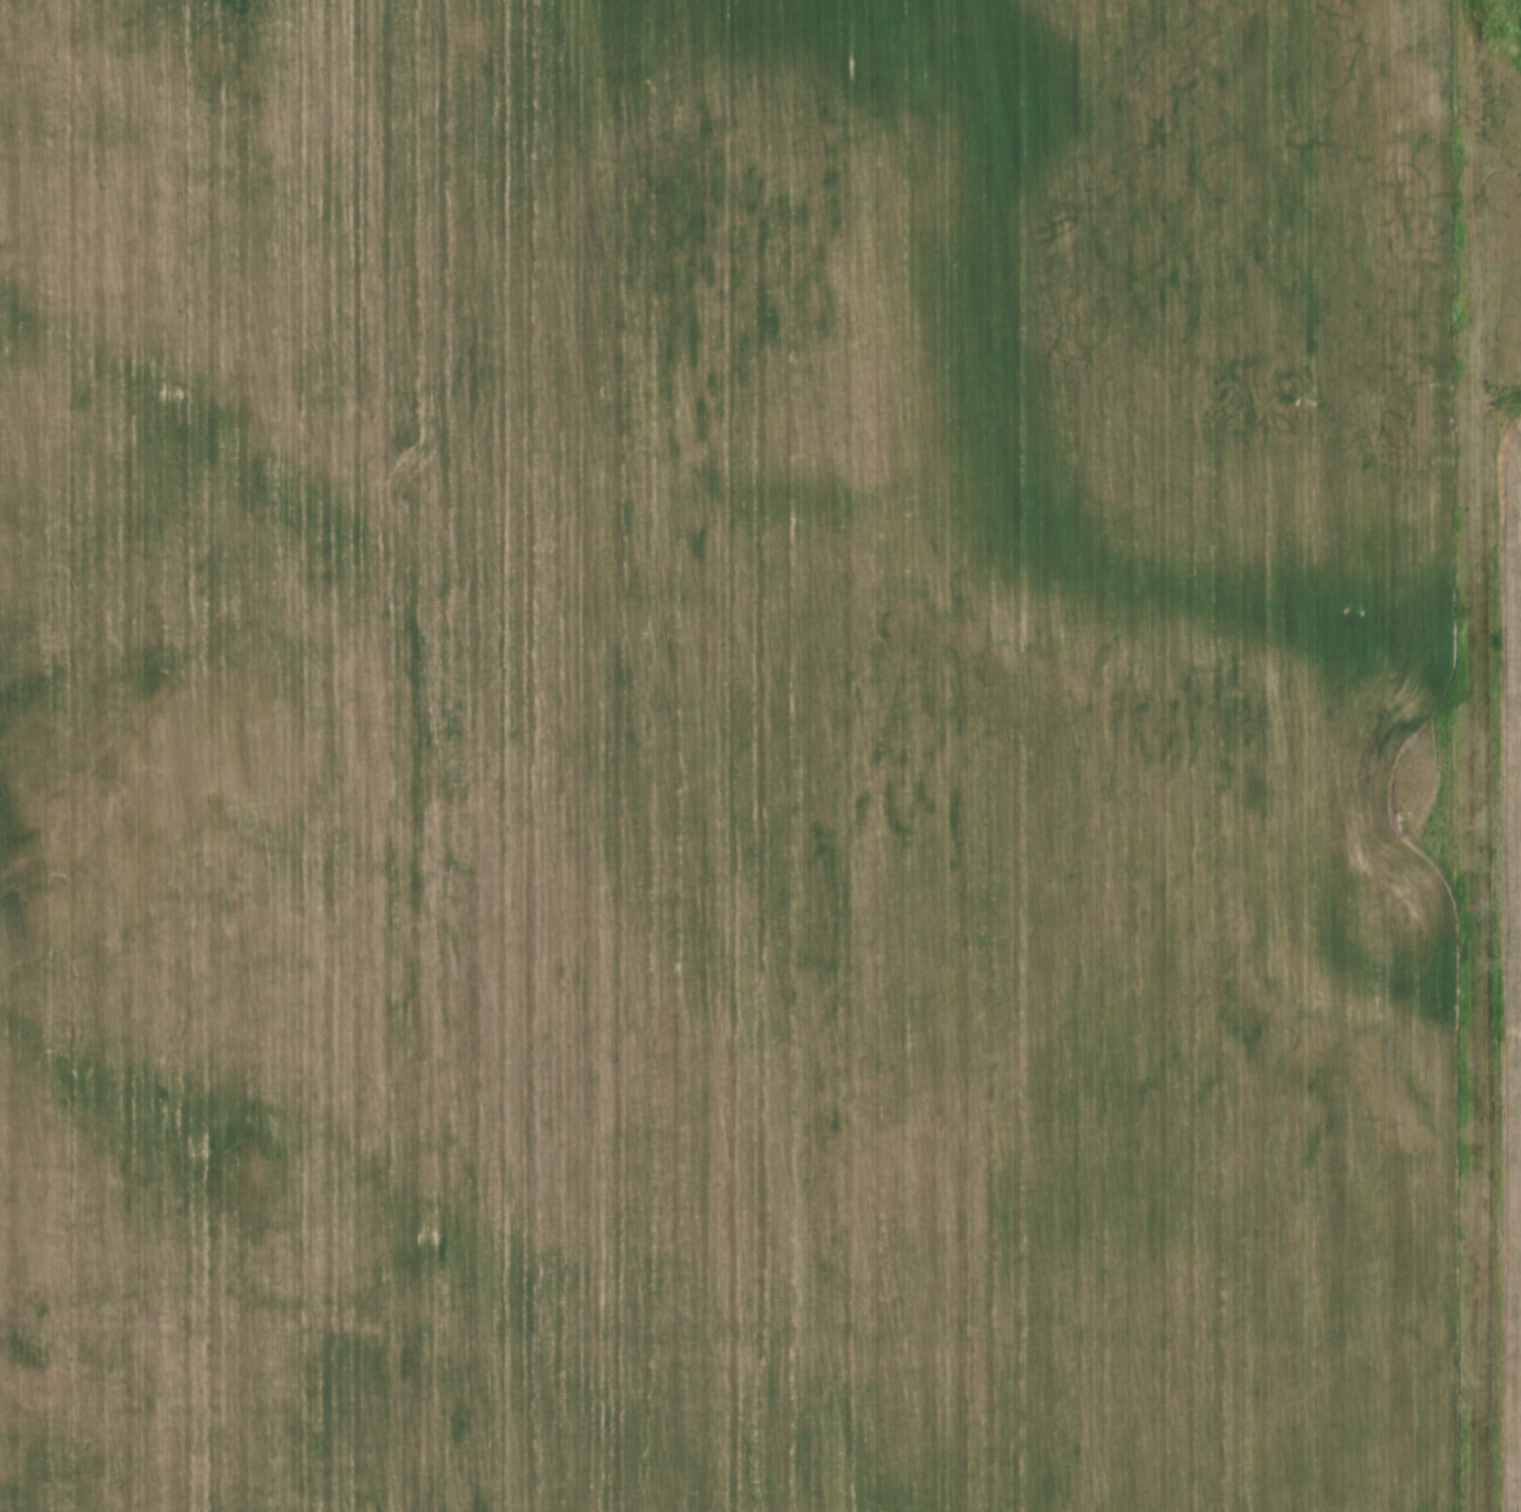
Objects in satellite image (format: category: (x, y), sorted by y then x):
road: (1481, 937)

